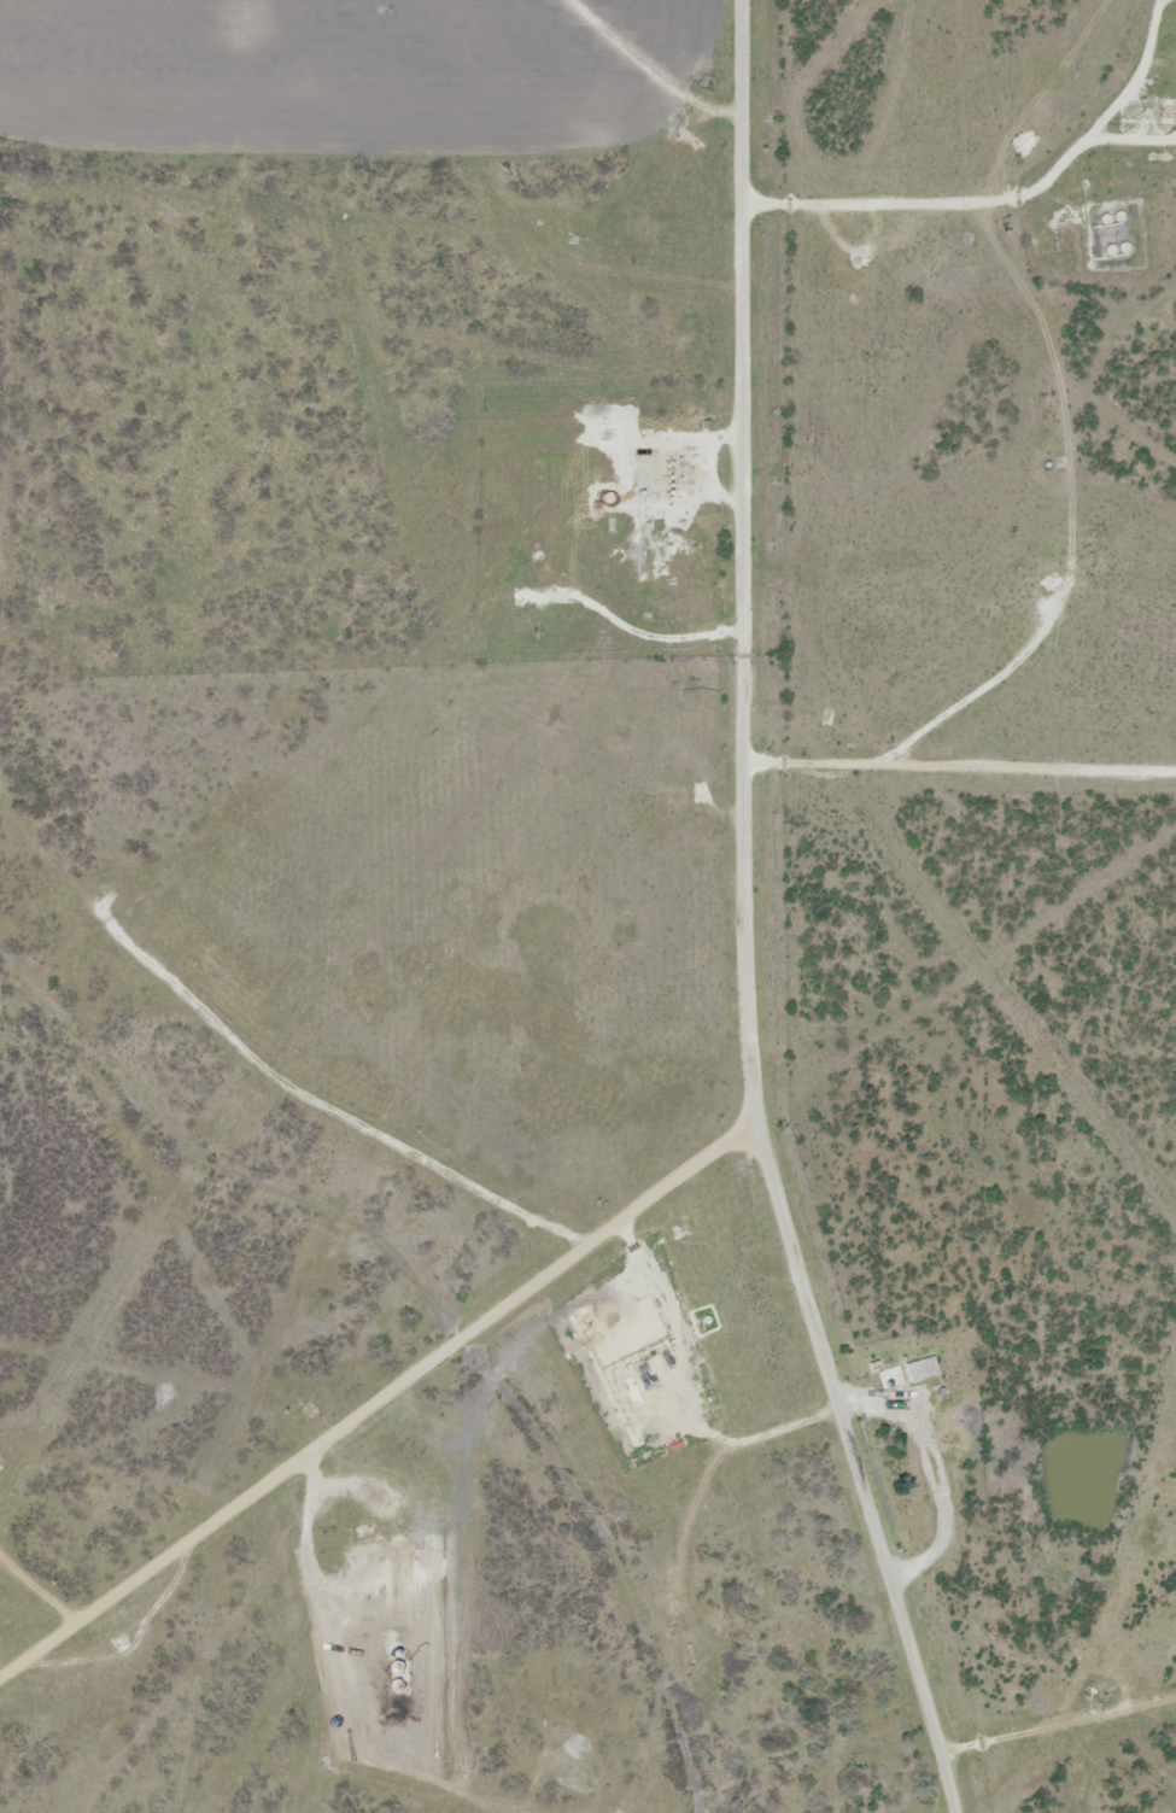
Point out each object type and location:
road: (667, 57)
building: (1165, 110)
road: (964, 189)
road: (748, 922)
road: (172, 932)
road: (370, 1363)
building: (871, 1365)
building: (920, 1367)
building: (889, 1376)
building: (616, 1393)

